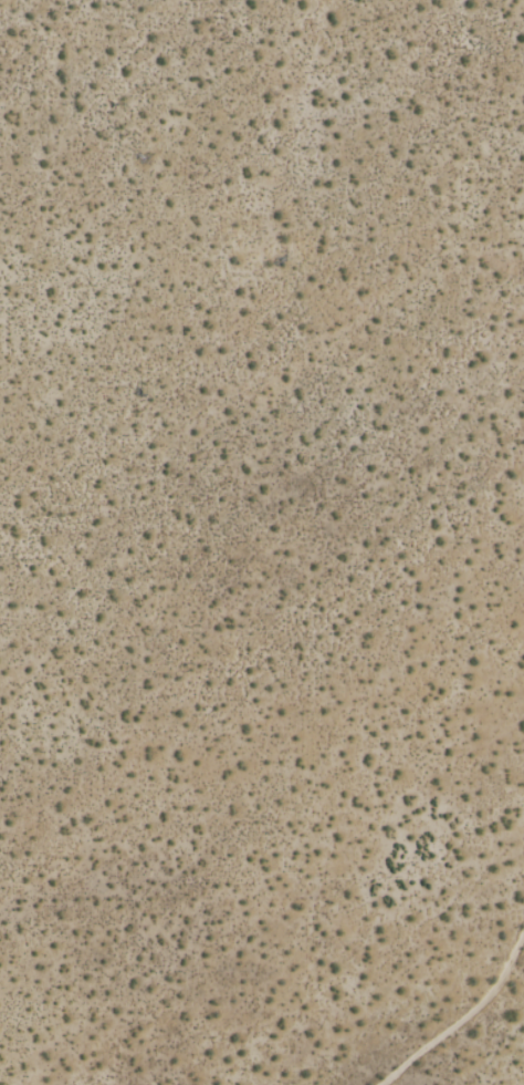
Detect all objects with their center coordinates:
road: (462, 1016)

